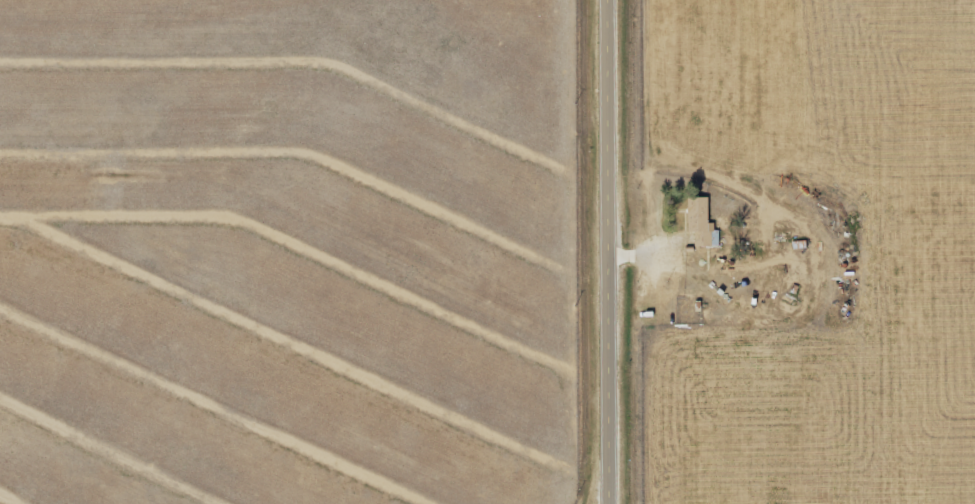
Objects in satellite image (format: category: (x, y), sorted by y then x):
building: (697, 223)
road: (607, 244)
road: (605, 496)
road: (608, 496)

